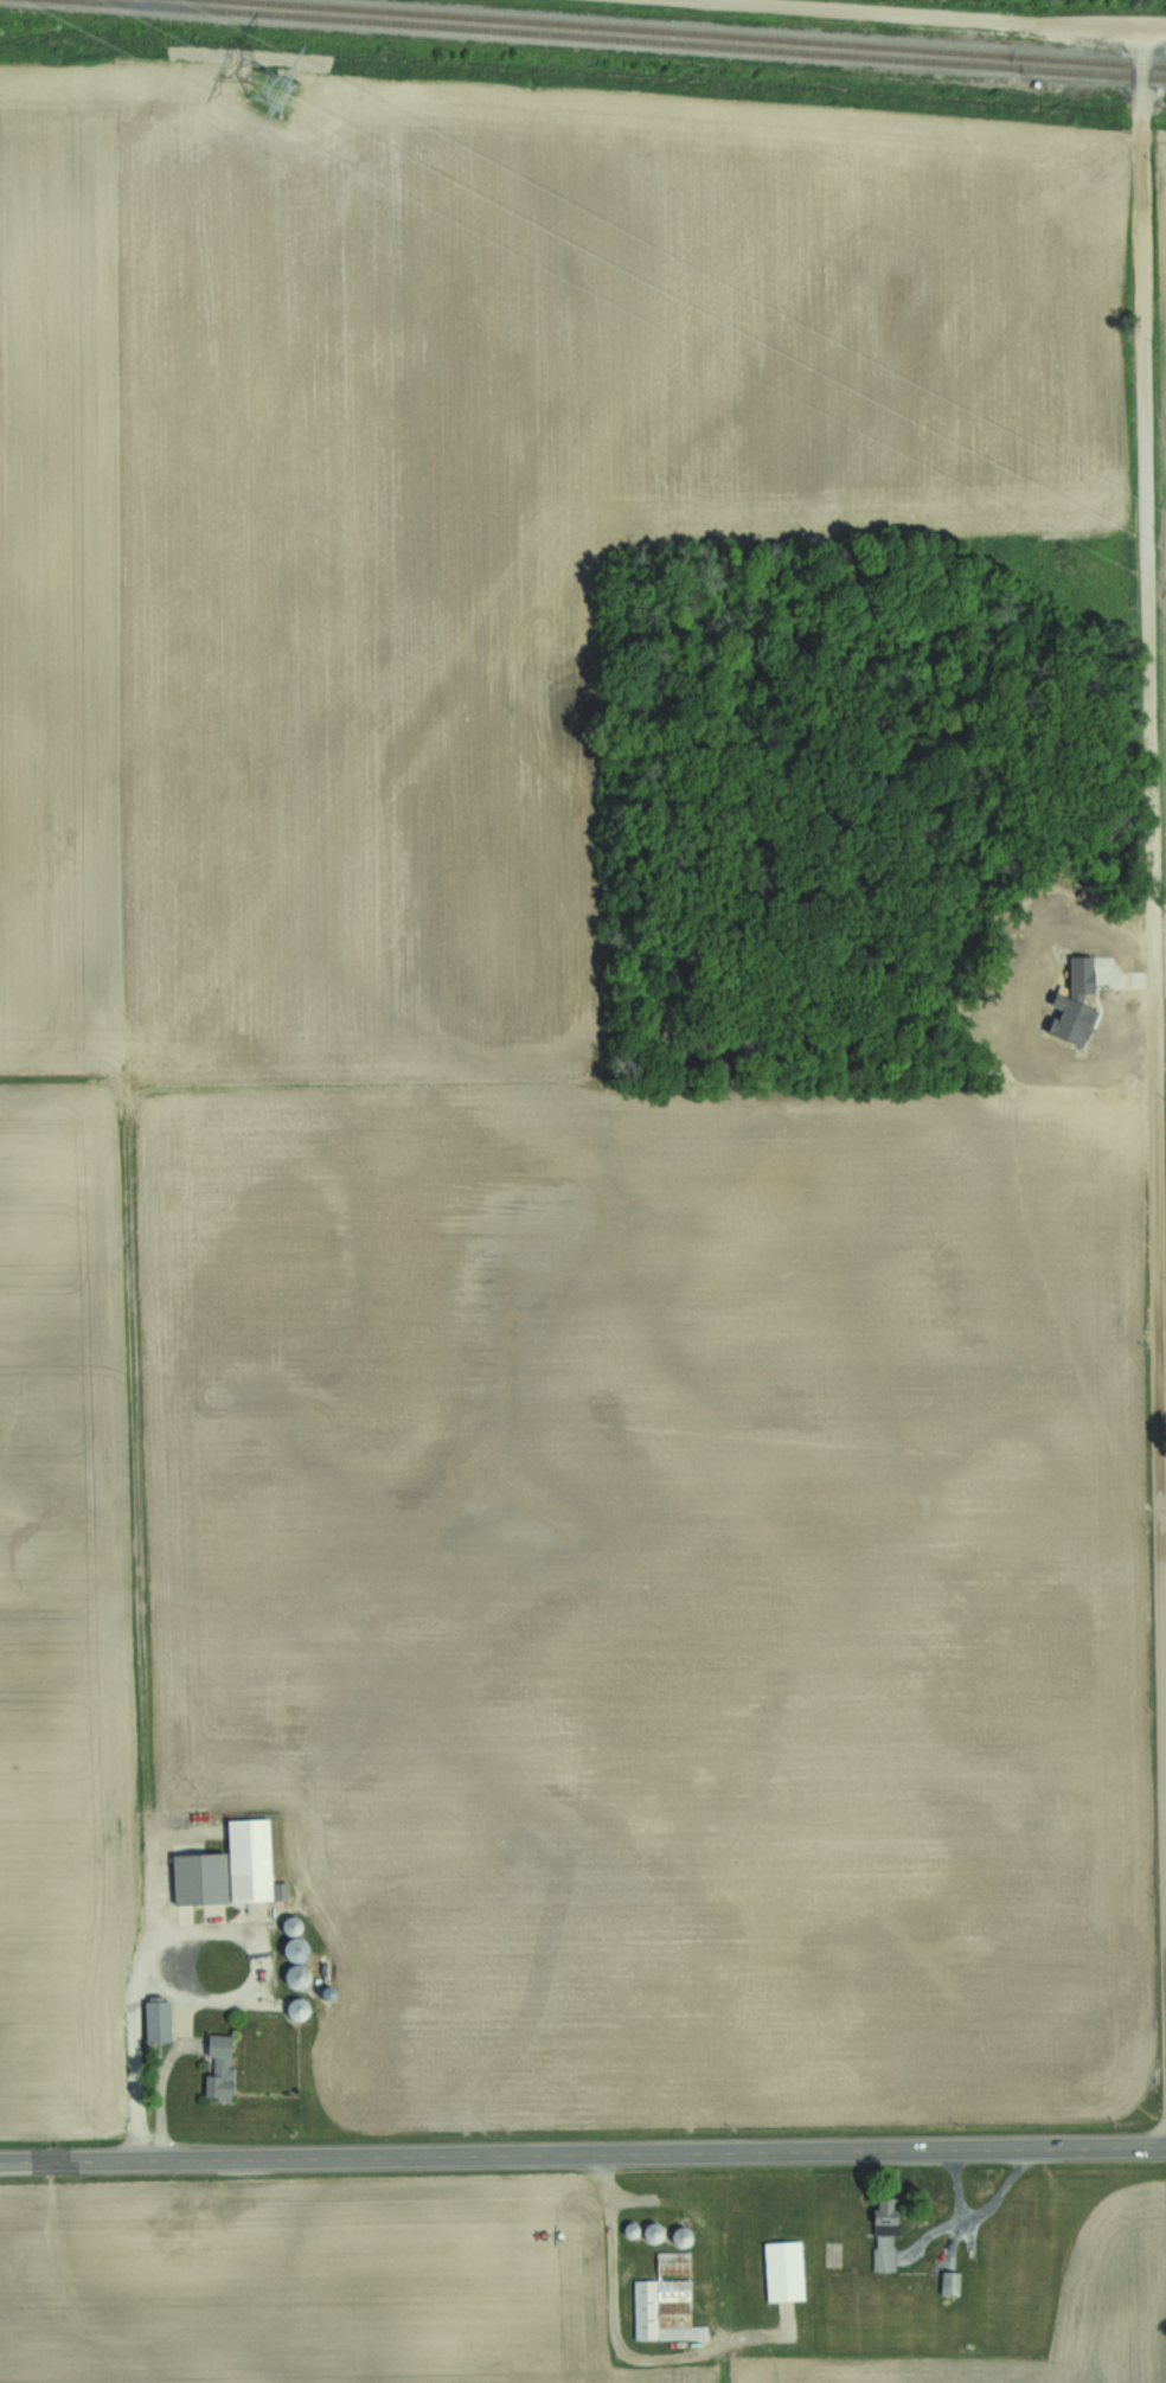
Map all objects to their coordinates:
road: (921, 15)
road: (1155, 30)
railway: (711, 33)
railway: (642, 37)
power tower: (255, 91)
road: (1153, 869)
building: (233, 1868)
road: (172, 1934)
building: (155, 2020)
building: (218, 2067)
road: (583, 2153)
building: (651, 2233)
building: (883, 2235)
building: (680, 2237)
building: (783, 2272)
building: (948, 2283)
building: (666, 2301)
road: (616, 2334)

